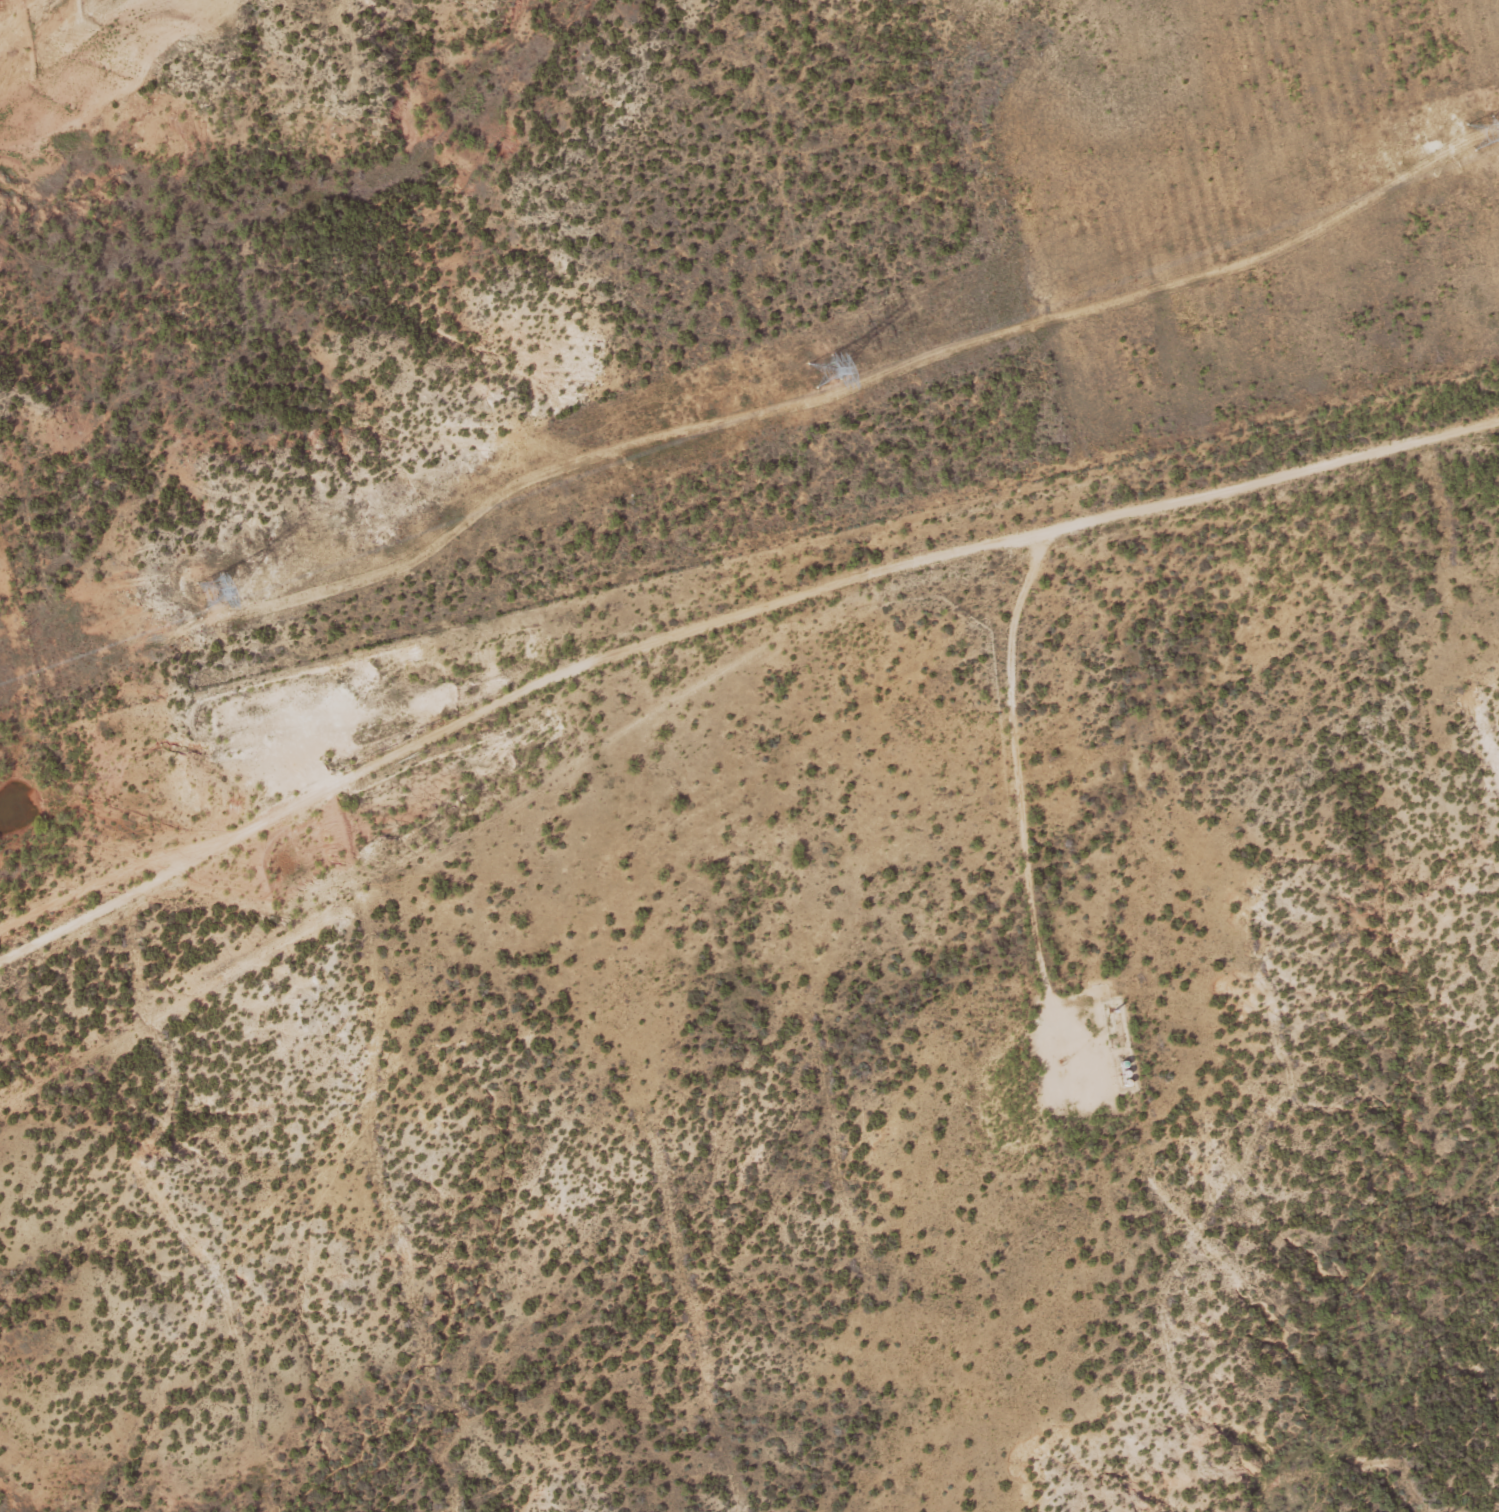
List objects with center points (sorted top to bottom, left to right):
power tower: (1486, 132)
power tower: (823, 371)
power tower: (216, 591)

